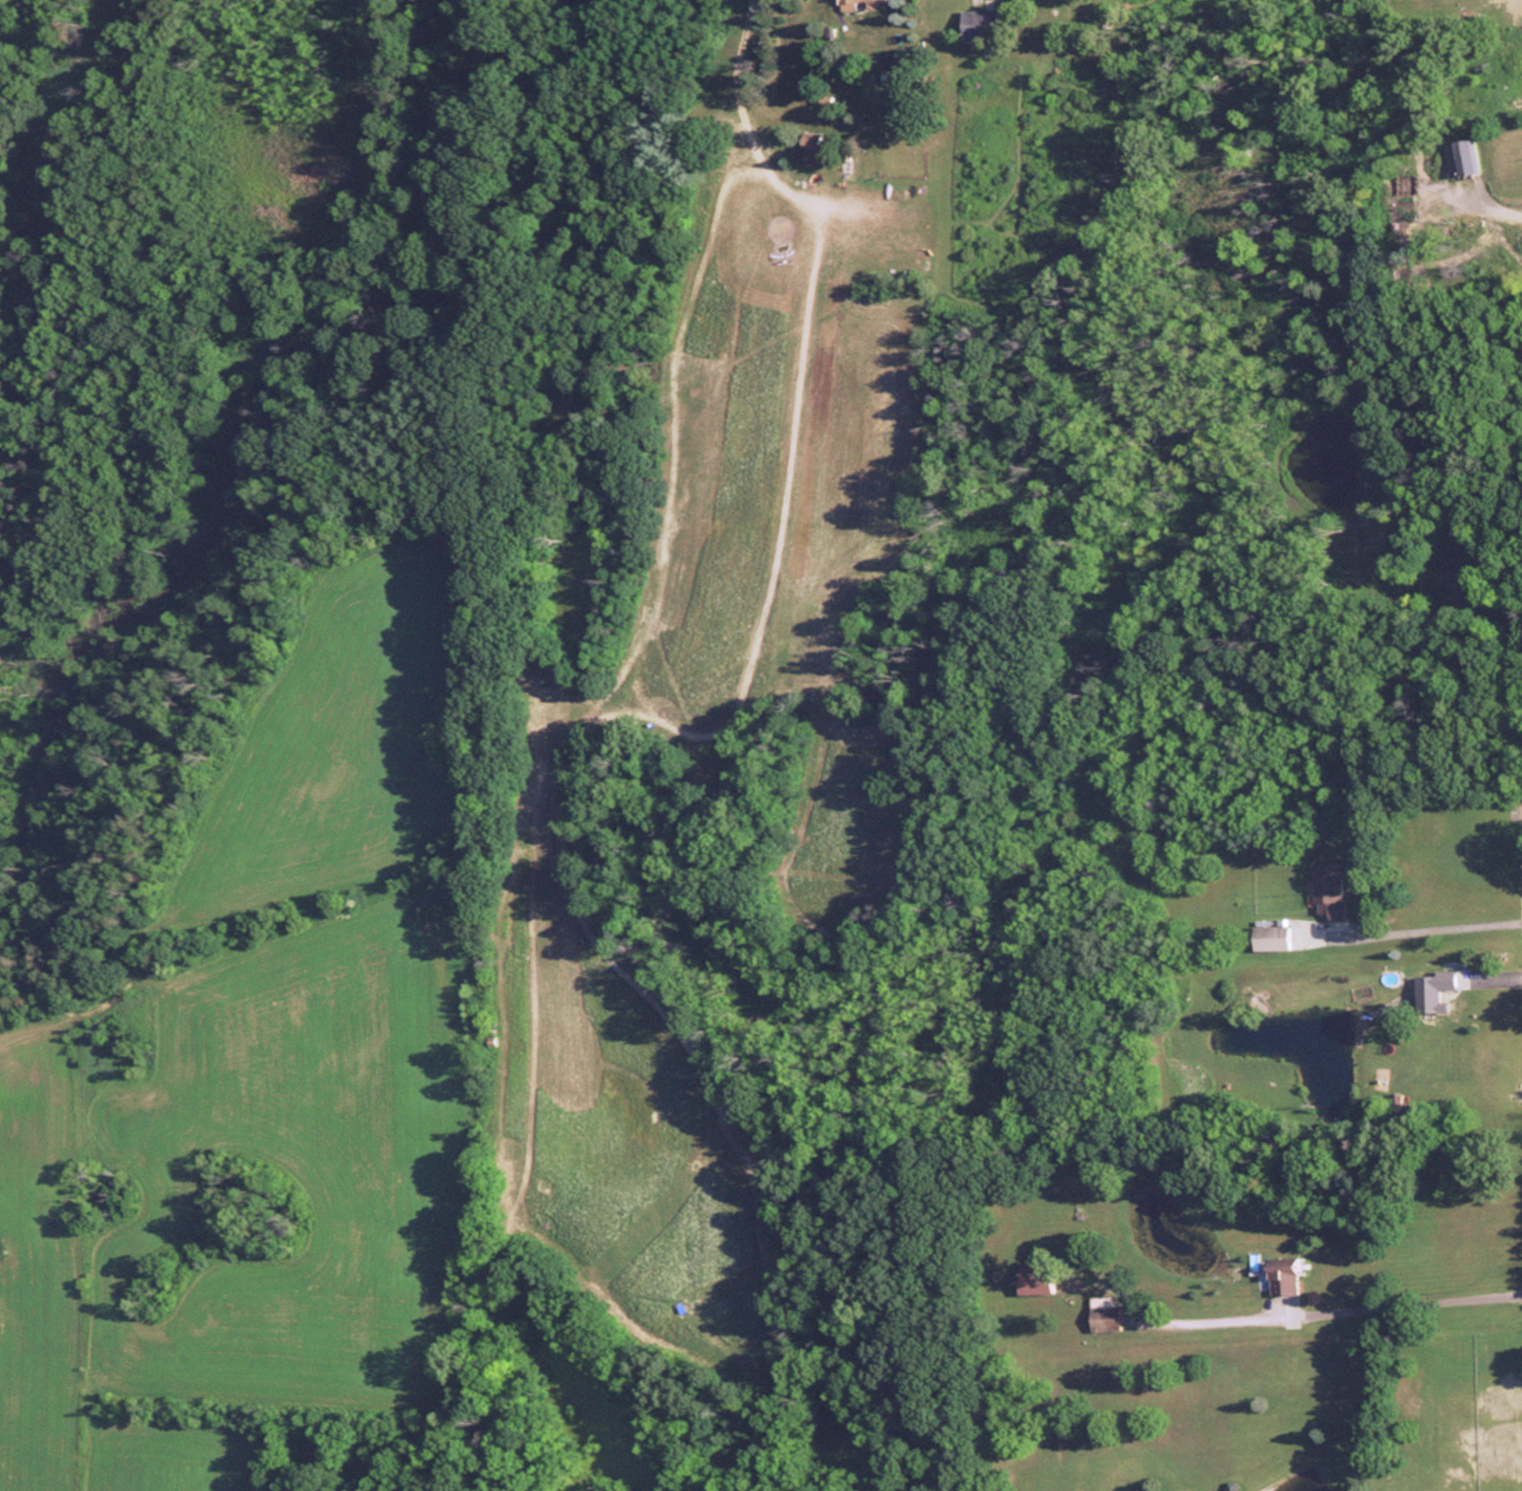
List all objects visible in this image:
building: (845, 5)
building: (976, 34)
building: (806, 146)
building: (1464, 156)
building: (1328, 890)
road: (1431, 925)
building: (1268, 936)
building: (1429, 990)
building: (1033, 1277)
building: (1283, 1277)
road: (1352, 1307)

